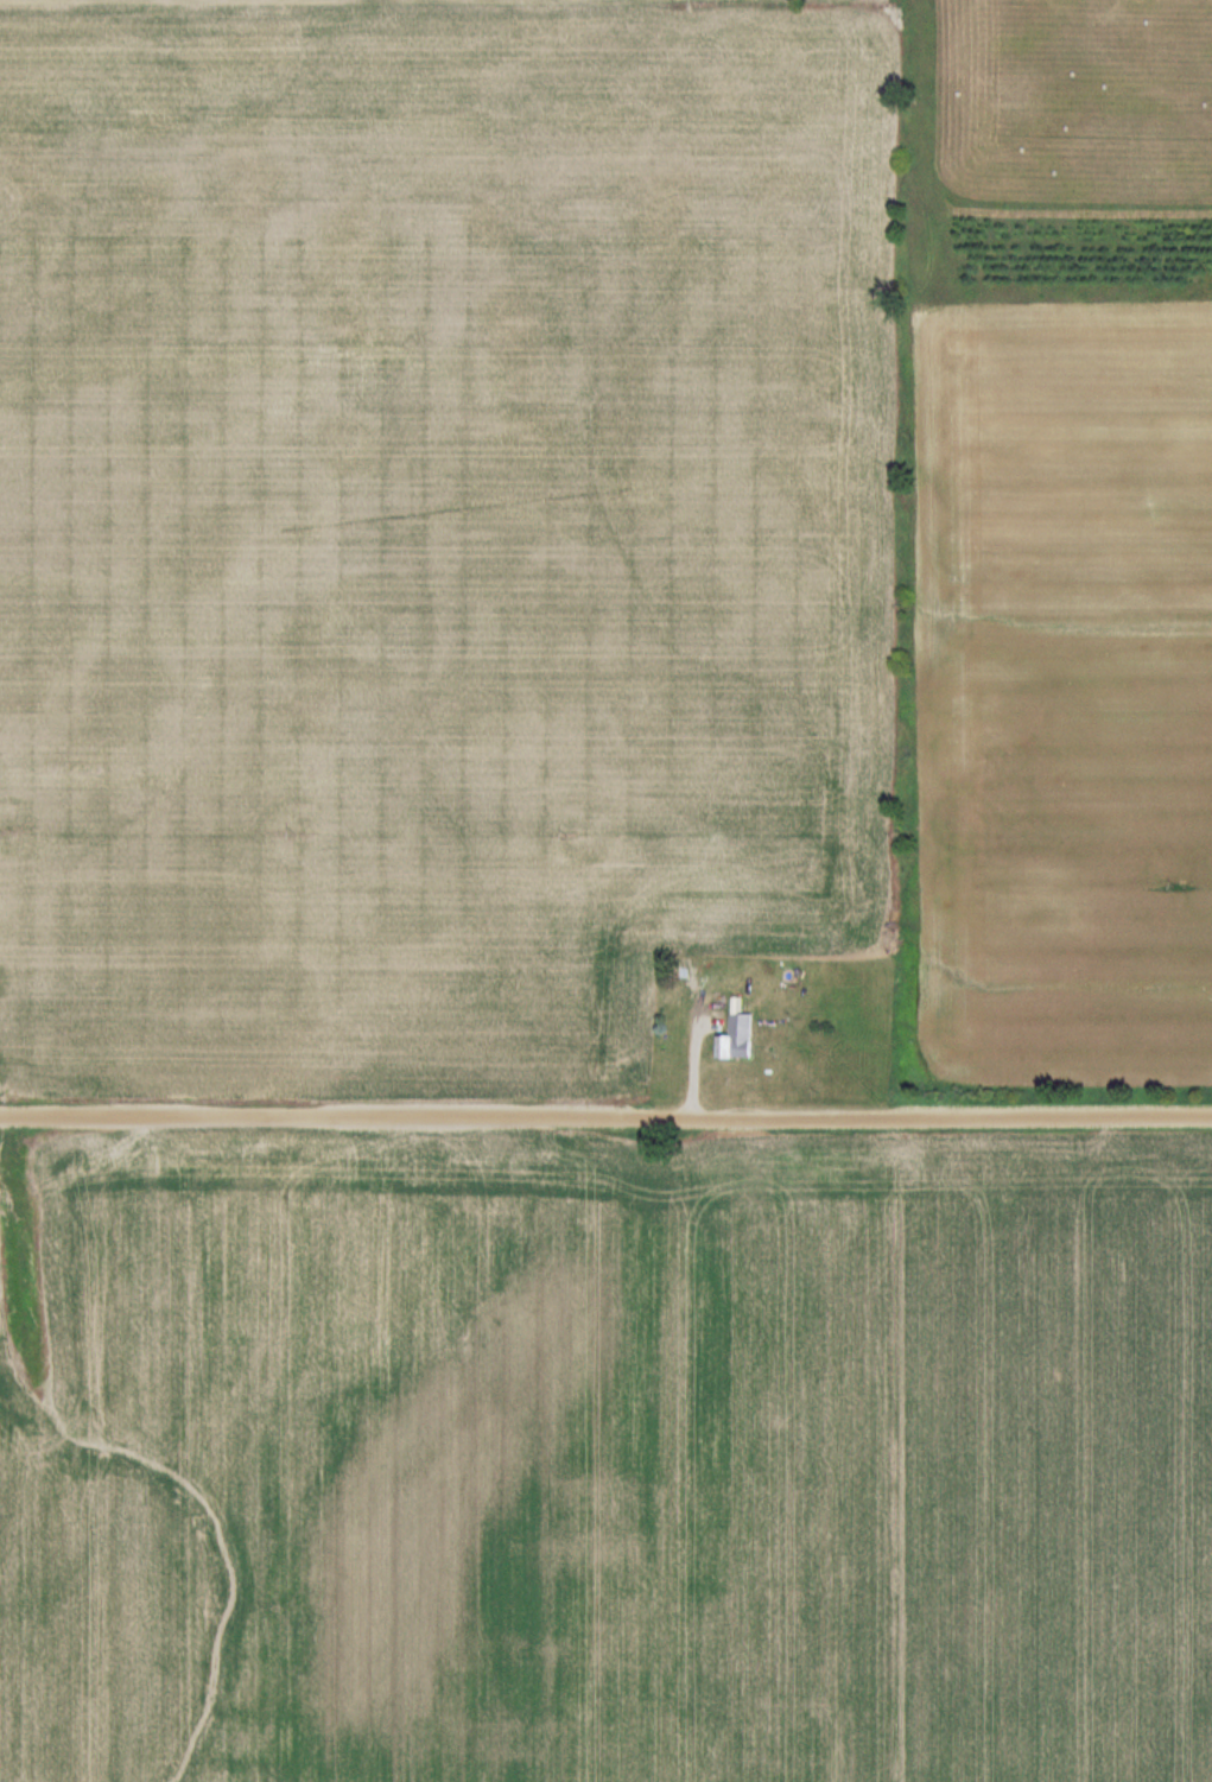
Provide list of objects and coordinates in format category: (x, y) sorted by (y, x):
building: (741, 1038)
road: (605, 1116)

